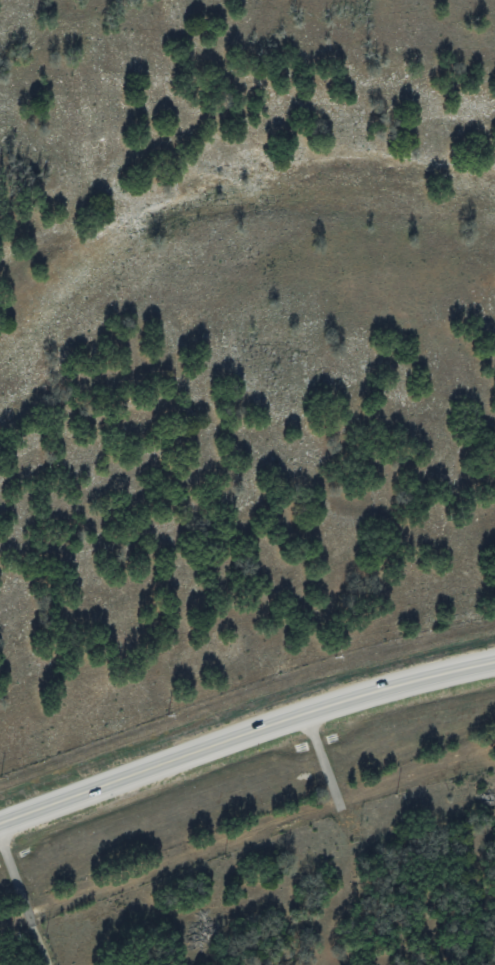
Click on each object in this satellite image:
road: (244, 730)
road: (23, 905)

